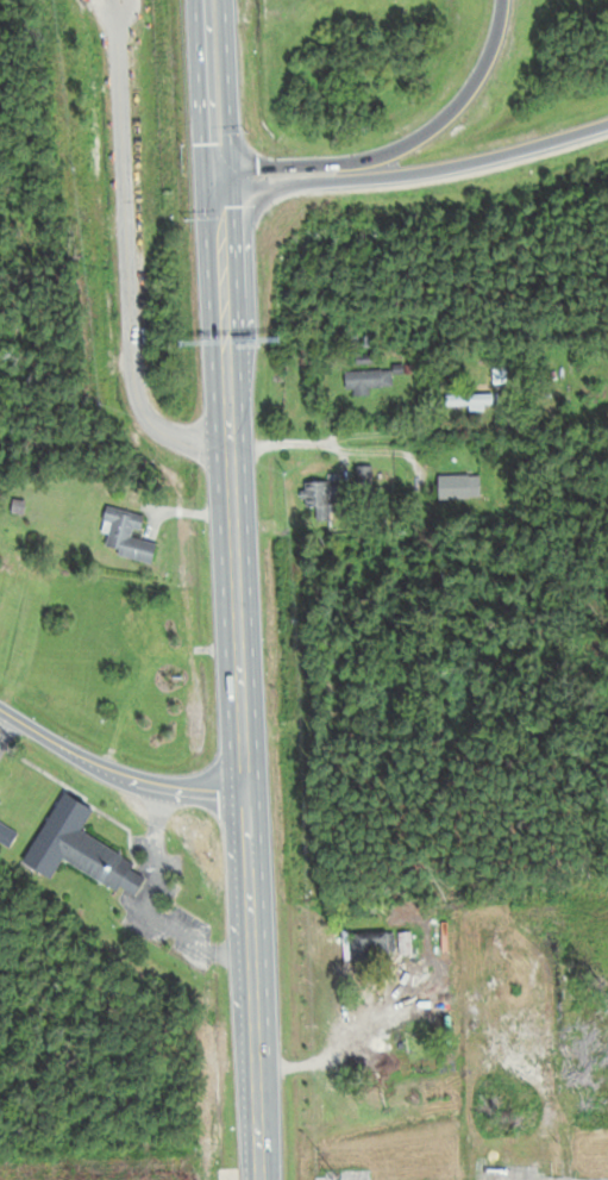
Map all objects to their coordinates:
road: (402, 144)
road: (418, 170)
traffic signals: (224, 177)
building: (362, 335)
building: (365, 380)
building: (470, 400)
road: (374, 438)
building: (459, 486)
building: (321, 497)
building: (127, 536)
road: (237, 589)
building: (139, 633)
road: (114, 773)
building: (76, 847)
building: (381, 944)

